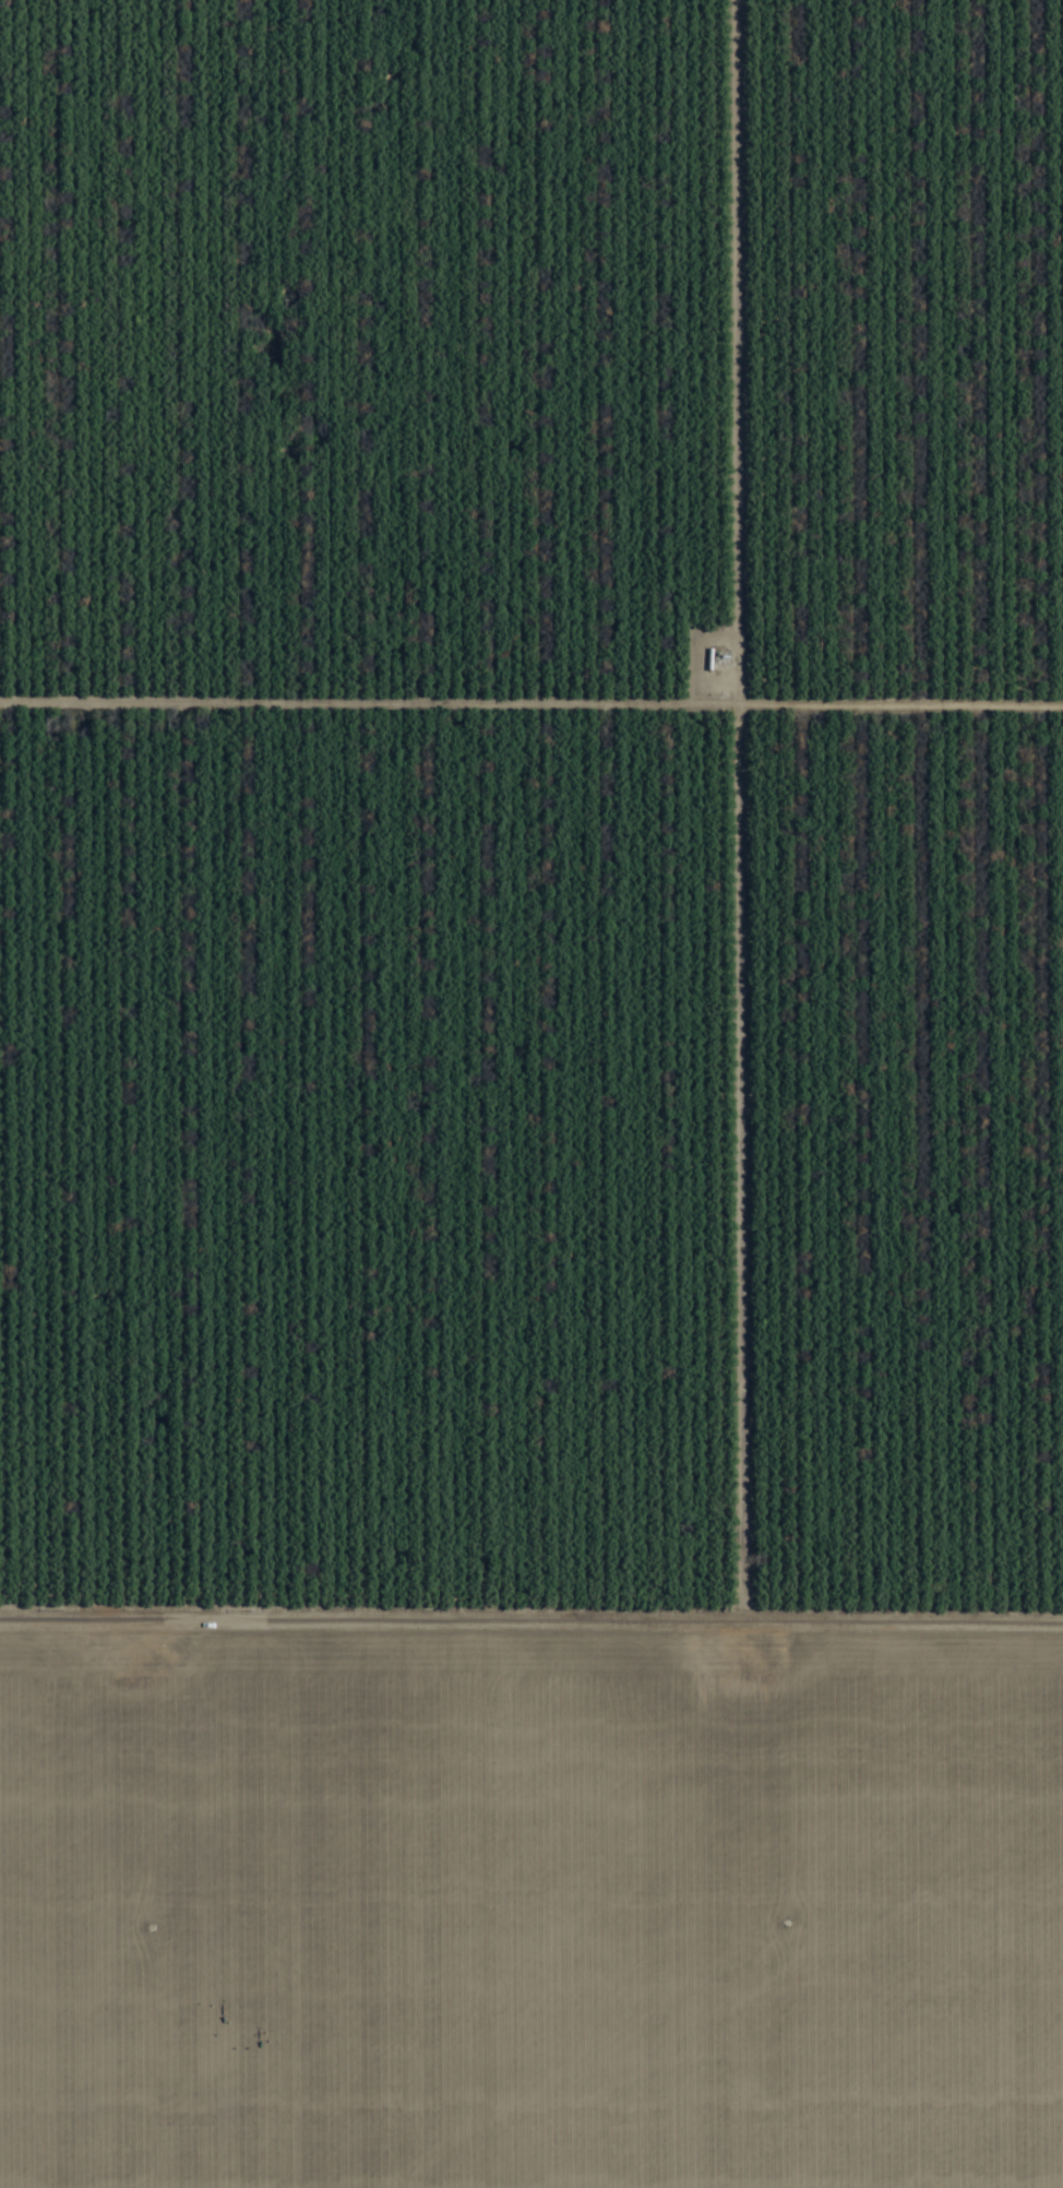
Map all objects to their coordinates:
crop: (531, 1094)
road: (531, 1597)

